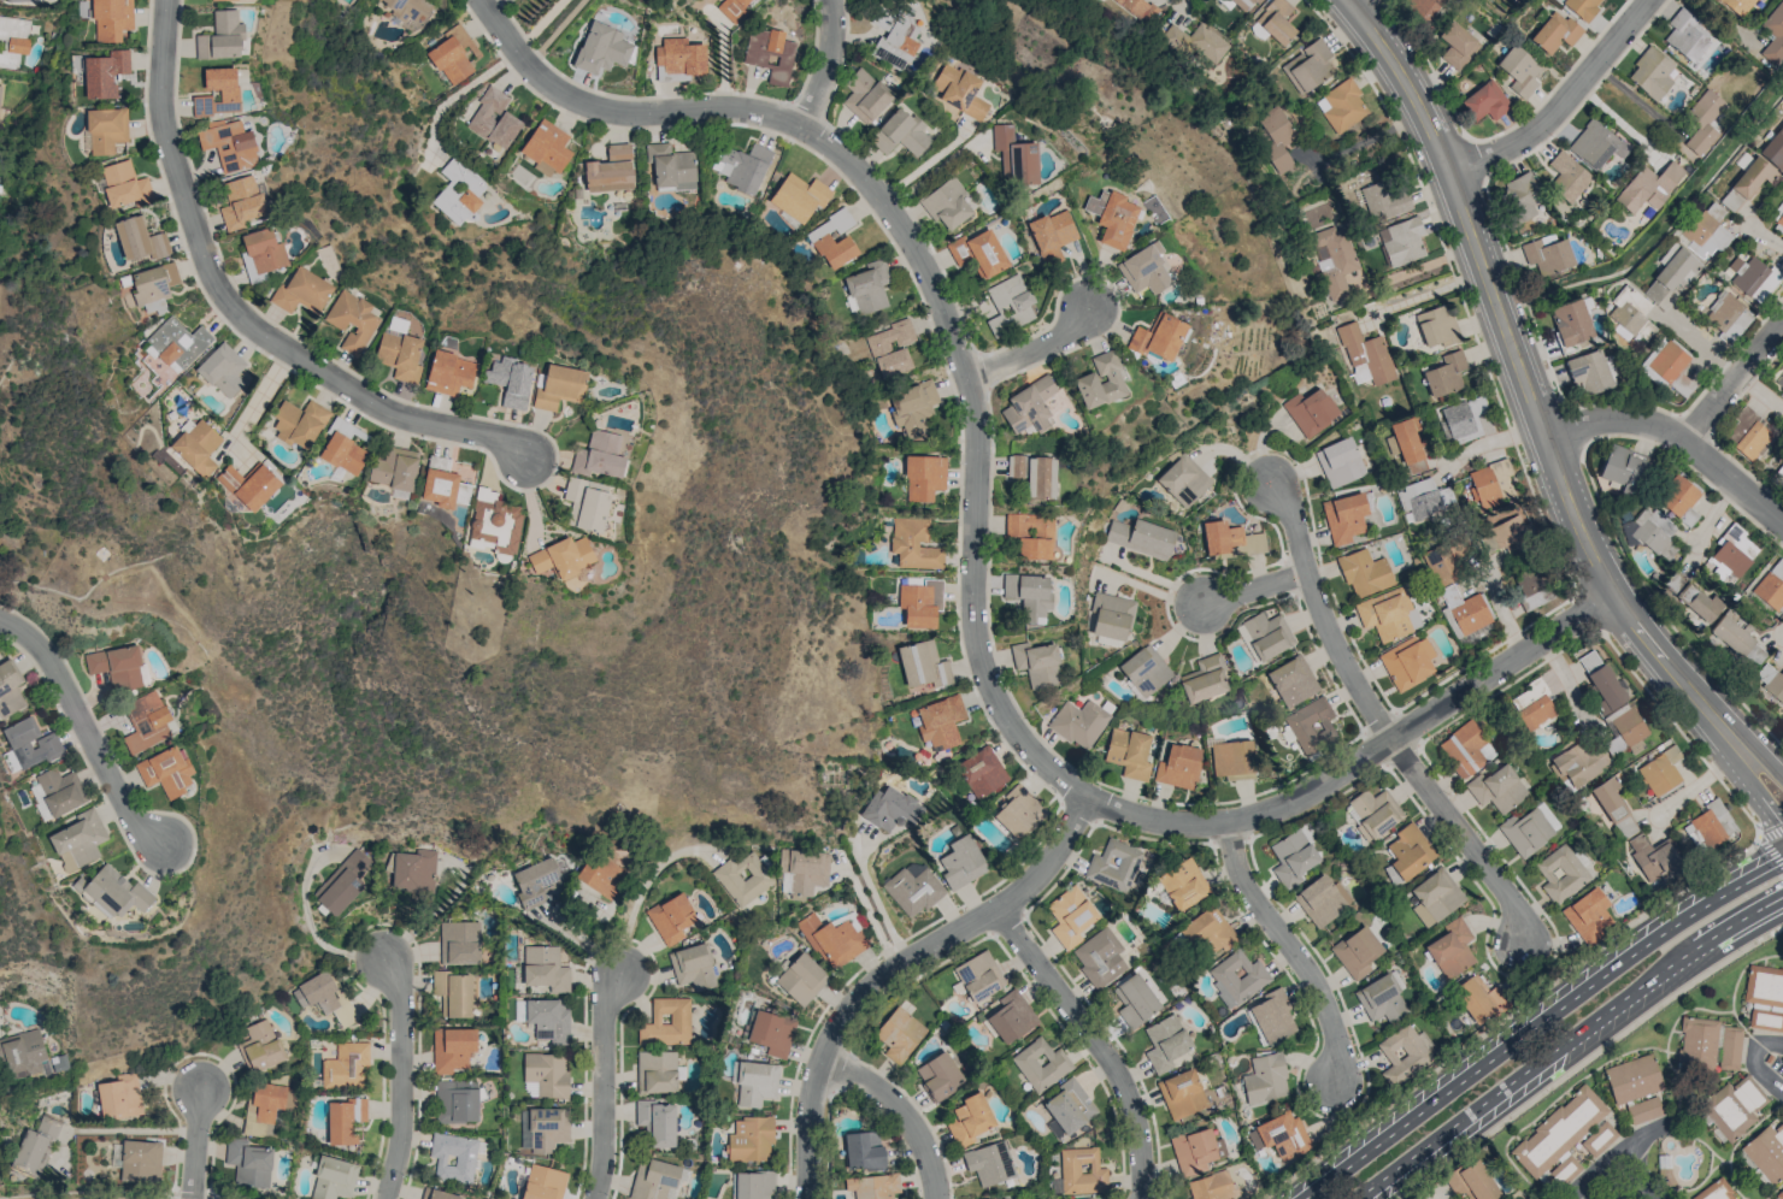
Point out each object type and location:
building: (222, 0)
building: (546, 0)
building: (16, 1)
building: (1243, 5)
building: (1737, 5)
building: (1582, 7)
building: (405, 8)
building: (732, 8)
building: (1138, 8)
building: (111, 19)
building: (1276, 20)
road: (557, 29)
building: (1554, 33)
building: (1773, 34)
building: (1684, 36)
building: (220, 37)
building: (893, 39)
building: (12, 40)
building: (1198, 45)
building: (1457, 46)
building: (601, 48)
building: (453, 54)
building: (770, 54)
building: (678, 60)
road: (825, 65)
building: (1307, 66)
building: (1519, 71)
building: (104, 73)
building: (1650, 73)
building: (0, 88)
road: (458, 88)
building: (958, 90)
building: (228, 93)
building: (865, 95)
building: (1487, 100)
road: (1561, 102)
building: (1341, 106)
building: (493, 119)
building: (1702, 120)
building: (106, 130)
building: (900, 132)
building: (1275, 138)
building: (229, 144)
building: (1595, 144)
building: (546, 148)
building: (1775, 152)
building: (1014, 156)
building: (741, 166)
building: (670, 167)
building: (610, 170)
building: (1567, 176)
building: (1753, 177)
building: (123, 184)
building: (1648, 187)
building: (458, 191)
building: (1523, 195)
building: (799, 196)
building: (1384, 201)
building: (240, 202)
building: (946, 203)
building: (1111, 217)
building: (1778, 225)
building: (1706, 230)
building: (1051, 232)
road: (1663, 235)
road: (1765, 236)
building: (819, 238)
building: (139, 240)
building: (1401, 242)
building: (263, 252)
building: (978, 253)
building: (1547, 255)
building: (1332, 260)
building: (1144, 270)
building: (1747, 273)
building: (1670, 274)
building: (153, 287)
building: (867, 288)
building: (302, 291)
road: (1428, 294)
building: (1008, 305)
road: (245, 314)
building: (1725, 315)
building: (352, 320)
building: (1571, 323)
building: (1437, 326)
building: (1158, 337)
building: (173, 344)
building: (889, 349)
road: (1034, 349)
building: (399, 352)
building: (1366, 353)
building: (1667, 367)
building: (222, 370)
building: (1589, 371)
building: (448, 373)
building: (1359, 373)
building: (1444, 373)
building: (508, 380)
road: (1732, 383)
building: (558, 386)
building: (1779, 386)
road: (1525, 389)
road: (246, 404)
building: (913, 407)
building: (1028, 407)
building: (1310, 412)
building: (299, 423)
building: (1748, 435)
road: (1677, 436)
road: (1494, 439)
building: (1408, 444)
building: (196, 447)
building: (343, 450)
building: (599, 455)
building: (439, 462)
building: (1338, 462)
building: (394, 468)
building: (1624, 468)
building: (1782, 472)
building: (1035, 474)
building: (924, 477)
building: (1183, 480)
building: (1487, 483)
building: (248, 485)
building: (442, 489)
building: (1424, 497)
building: (1678, 500)
building: (585, 504)
building: (1343, 516)
building: (1654, 533)
building: (1030, 534)
building: (1141, 538)
building: (1230, 539)
building: (913, 544)
building: (1732, 553)
building: (561, 557)
building: (1444, 560)
road: (972, 568)
building: (1364, 573)
building: (1771, 585)
road: (1254, 589)
building: (1028, 595)
building: (1691, 602)
building: (920, 603)
building: (1466, 610)
building: (1388, 614)
building: (1111, 615)
road: (1661, 615)
building: (1266, 634)
building: (1730, 637)
building: (1407, 662)
building: (1036, 663)
building: (923, 665)
building: (116, 666)
building: (1144, 671)
building: (1204, 679)
building: (1291, 680)
building: (1771, 681)
building: (10, 689)
building: (1531, 704)
road: (1378, 720)
building: (146, 721)
building: (940, 722)
building: (1078, 723)
building: (1311, 725)
road: (84, 728)
building: (1629, 730)
building: (29, 743)
building: (1466, 749)
building: (1128, 752)
building: (1231, 758)
road: (1766, 760)
building: (1577, 761)
building: (1178, 767)
building: (1660, 770)
building: (165, 772)
building: (981, 772)
building: (1496, 788)
building: (59, 791)
road: (1756, 793)
building: (1610, 807)
building: (890, 809)
building: (1017, 813)
building: (1372, 813)
building: (1546, 815)
building: (1710, 826)
building: (1525, 831)
road: (1771, 832)
building: (78, 840)
building: (1408, 850)
road: (1771, 851)
building: (1652, 857)
building: (1291, 858)
building: (960, 862)
building: (1113, 866)
building: (413, 870)
building: (804, 870)
building: (1560, 873)
building: (600, 875)
building: (1390, 875)
building: (743, 876)
building: (535, 881)
building: (342, 882)
building: (1182, 884)
road: (645, 888)
building: (912, 888)
building: (112, 892)
building: (1435, 897)
building: (1322, 900)
road: (877, 904)
road: (866, 910)
building: (1070, 916)
building: (1587, 916)
building: (670, 917)
building: (1207, 933)
road: (1611, 938)
building: (835, 939)
building: (459, 943)
building: (1450, 947)
road: (1293, 949)
building: (1357, 952)
building: (1099, 957)
road: (895, 965)
building: (693, 967)
building: (545, 969)
building: (978, 976)
building: (1236, 977)
building: (801, 979)
road: (1734, 988)
building: (453, 993)
building: (325, 997)
building: (1764, 997)
building: (1381, 998)
building: (1478, 998)
building: (1135, 1000)
road: (1687, 1009)
building: (1271, 1016)
building: (1011, 1017)
building: (545, 1018)
building: (666, 1022)
road: (1538, 1022)
building: (772, 1033)
building: (899, 1034)
road: (1782, 1038)
road: (1096, 1041)
building: (1165, 1043)
road: (1567, 1043)
building: (1707, 1045)
building: (259, 1046)
building: (452, 1049)
building: (23, 1052)
building: (1404, 1053)
road: (1588, 1058)
road: (1754, 1062)
building: (1040, 1064)
building: (346, 1067)
building: (655, 1071)
road: (1587, 1074)
road: (401, 1075)
building: (545, 1075)
building: (938, 1075)
building: (1265, 1079)
road: (605, 1081)
building: (754, 1082)
building: (1636, 1086)
building: (1181, 1093)
building: (119, 1097)
building: (457, 1101)
building: (1734, 1106)
building: (263, 1108)
building: (1067, 1109)
road: (902, 1110)
building: (345, 1120)
building: (969, 1120)
building: (657, 1122)
building: (547, 1128)
road: (1647, 1132)
building: (1279, 1135)
road: (194, 1139)
building: (749, 1139)
building: (1564, 1139)
road: (1676, 1141)
road: (1736, 1144)
road: (1705, 1145)
building: (35, 1146)
building: (863, 1150)
building: (1195, 1150)
road: (1673, 1151)
building: (1767, 1151)
road: (1618, 1152)
building: (453, 1157)
building: (140, 1162)
road: (1711, 1162)
building: (248, 1163)
building: (989, 1163)
building: (1081, 1171)
building: (333, 1179)
road: (1677, 1180)
building: (543, 1182)
building: (1472, 1182)
building: (753, 1185)
building: (872, 1186)
building: (1211, 1186)
road: (1697, 1186)
building: (1714, 1191)
road: (1775, 1191)
building: (437, 1194)
building: (1779, 1194)
road: (1646, 1198)

